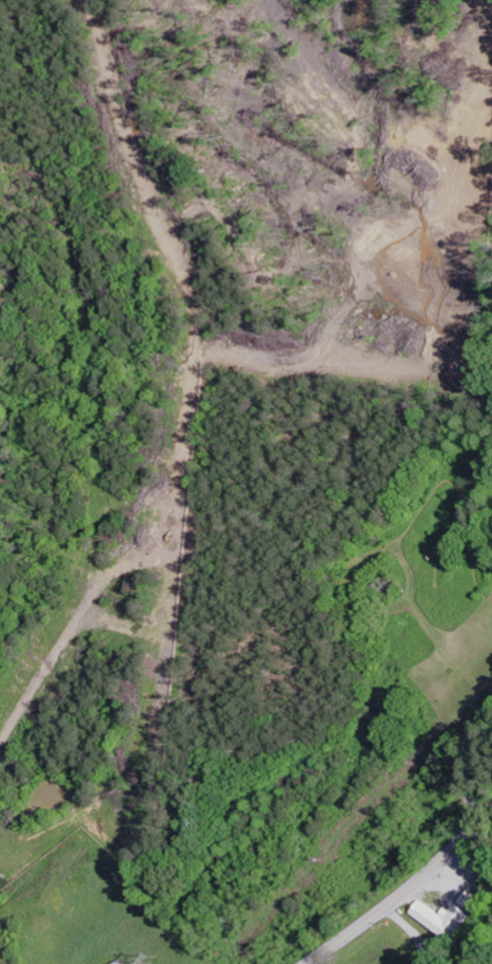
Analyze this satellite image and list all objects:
road: (402, 891)
building: (477, 902)
building: (445, 918)
road: (387, 930)
power tower: (155, 959)
building: (117, 962)

